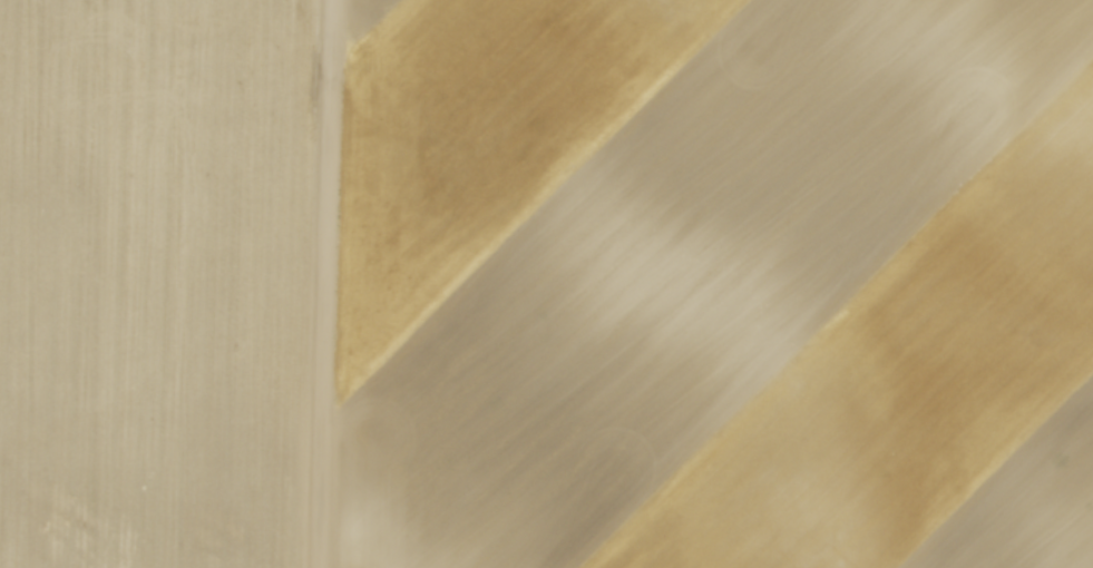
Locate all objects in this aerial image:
crop: (152, 281)
road: (323, 284)
crop: (718, 284)

